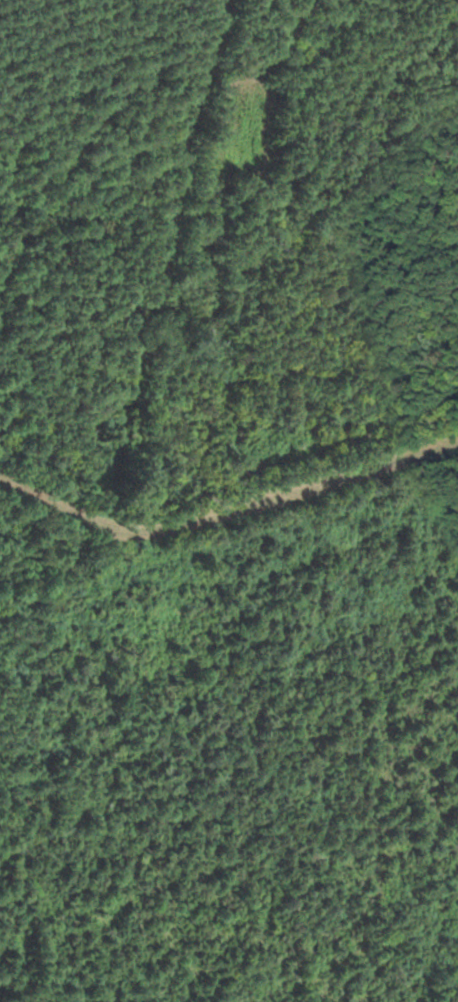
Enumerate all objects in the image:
road: (225, 496)

